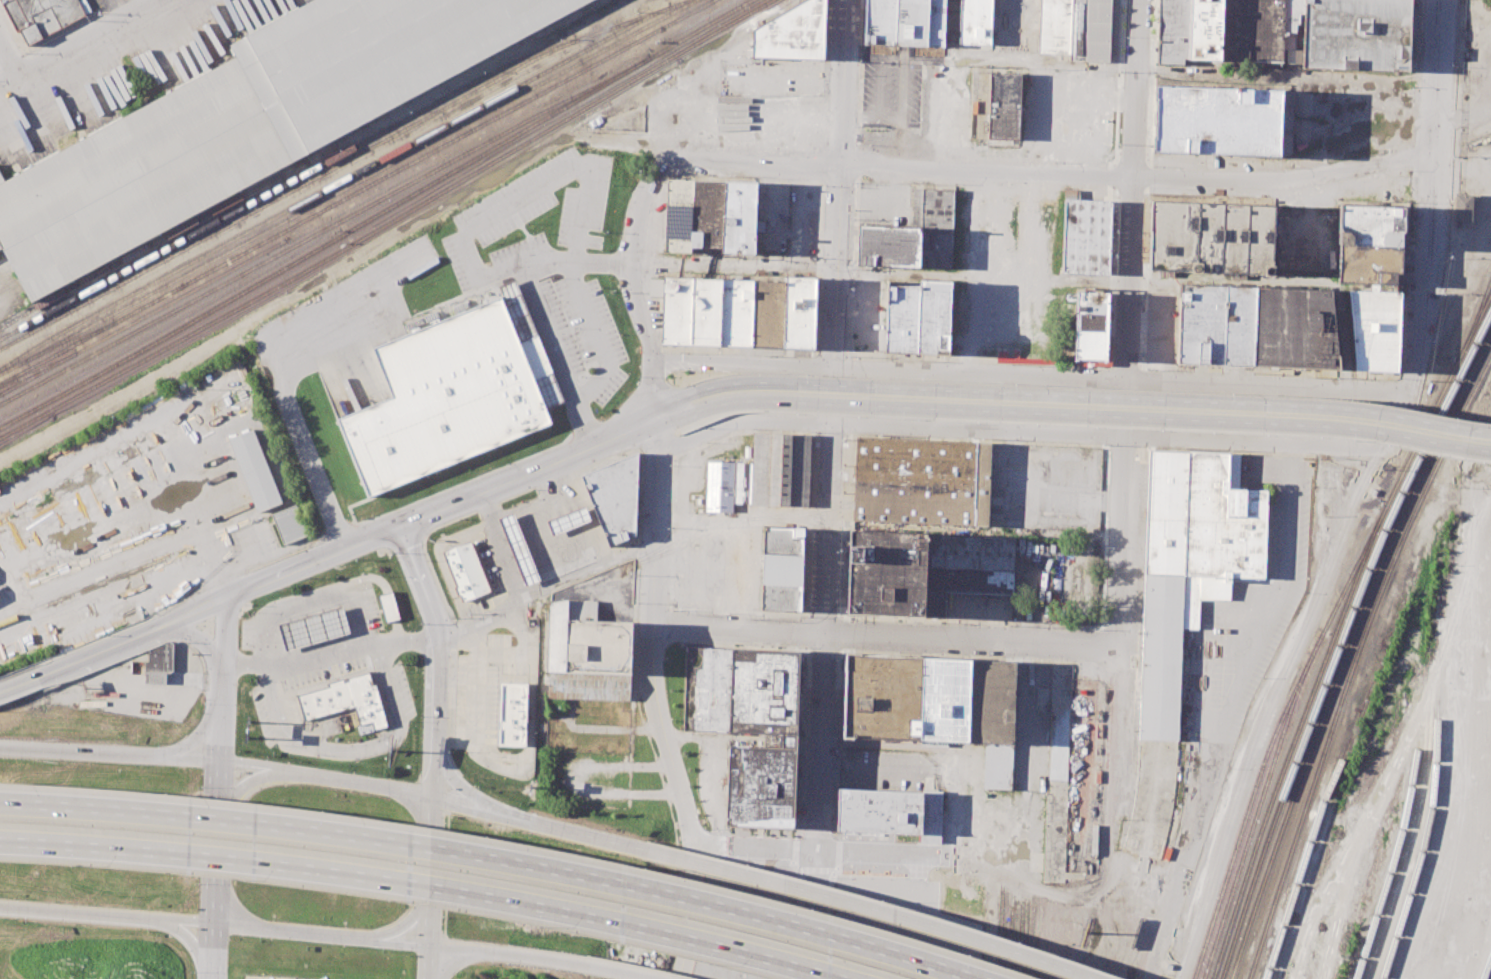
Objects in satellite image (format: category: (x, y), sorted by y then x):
building: (41, 16)
building: (878, 21)
building: (1291, 21)
building: (911, 22)
building: (936, 22)
building: (951, 22)
building: (976, 24)
building: (1054, 26)
railway: (699, 28)
building: (1205, 29)
building: (1077, 30)
building: (1097, 30)
building: (1173, 30)
building: (1252, 30)
railway: (715, 31)
building: (790, 33)
building: (1356, 33)
road: (1152, 37)
road: (75, 42)
road: (958, 55)
road: (7, 63)
road: (1066, 64)
railway: (647, 65)
road: (1284, 78)
road: (1118, 83)
road: (857, 85)
building: (1004, 105)
road: (950, 112)
road: (1149, 120)
building: (1217, 120)
building: (246, 124)
railway: (526, 141)
road: (1117, 153)
road: (1131, 153)
road: (1145, 153)
railway: (329, 169)
road: (1044, 173)
road: (1112, 175)
road: (1147, 175)
railway: (342, 179)
railway: (284, 184)
road: (838, 184)
road: (1379, 185)
railway: (347, 186)
railway: (425, 187)
road: (1112, 187)
road: (1146, 188)
railway: (356, 191)
building: (1463, 206)
building: (917, 208)
building: (709, 211)
building: (680, 217)
building: (739, 217)
road: (770, 220)
building: (1370, 224)
road: (1424, 227)
building: (936, 228)
railway: (323, 229)
road: (464, 235)
building: (1086, 236)
building: (1198, 236)
building: (1259, 238)
building: (888, 246)
railway: (144, 248)
road: (740, 263)
building: (1369, 264)
parking lot: (548, 266)
road: (823, 267)
road: (851, 268)
road: (970, 272)
road: (902, 273)
road: (657, 277)
road: (1111, 277)
road: (1049, 281)
road: (633, 288)
building: (517, 309)
building: (690, 310)
road: (587, 312)
building: (735, 312)
building: (799, 312)
building: (767, 313)
building: (917, 316)
railway: (139, 318)
railway: (1474, 320)
road: (1128, 323)
building: (1215, 324)
building: (1091, 326)
building: (1293, 328)
building: (1374, 328)
railway: (197, 330)
road: (1056, 330)
railway: (69, 340)
road: (272, 361)
road: (740, 364)
railway: (40, 368)
road: (1217, 368)
railway: (101, 371)
road: (1117, 381)
road: (724, 383)
road: (665, 388)
building: (548, 389)
road: (950, 390)
railway: (2, 393)
building: (447, 396)
road: (968, 401)
road: (1221, 401)
road: (726, 402)
road: (949, 408)
road: (734, 410)
street lamp: (798, 414)
road: (1300, 414)
street lamp: (860, 416)
street lamp: (905, 418)
street lamp: (920, 418)
street lamp: (980, 420)
road: (1414, 420)
road: (1220, 421)
street lamp: (1040, 423)
street lamp: (1100, 425)
road: (1143, 425)
street lamp: (698, 427)
road: (677, 428)
street lamp: (1135, 428)
street lamp: (1166, 428)
street lamp: (1217, 430)
road: (676, 432)
street lamp: (1272, 432)
road: (1019, 433)
street lamp: (1326, 435)
railway: (1451, 436)
road: (1414, 438)
street lamp: (1358, 439)
road: (656, 442)
street lamp: (1393, 443)
road: (674, 444)
railway: (120, 451)
street lamp: (1443, 453)
road: (674, 454)
street lamp: (617, 460)
street lamp: (1489, 460)
street lamp: (674, 465)
building: (255, 469)
building: (780, 469)
railway: (105, 471)
road: (528, 471)
building: (921, 481)
building: (742, 483)
building: (719, 486)
street lamp: (533, 489)
road: (191, 496)
building: (614, 497)
road: (534, 512)
building: (568, 519)
road: (740, 519)
street lamp: (460, 520)
road: (811, 520)
building: (289, 523)
road: (671, 530)
road: (422, 544)
road: (498, 547)
building: (517, 547)
road: (312, 564)
building: (1189, 565)
building: (966, 567)
railway: (1345, 567)
building: (781, 568)
building: (464, 570)
building: (886, 572)
road: (546, 585)
railway: (91, 588)
road: (961, 598)
road: (306, 605)
building: (388, 606)
road: (842, 617)
building: (313, 626)
building: (563, 628)
railway: (1335, 629)
road: (225, 632)
road: (886, 635)
road: (134, 638)
railway: (1341, 639)
road: (203, 640)
building: (598, 646)
street lamp: (144, 651)
railway: (1346, 651)
road: (330, 652)
road: (440, 660)
building: (156, 666)
railway: (1360, 672)
road: (819, 673)
road: (189, 679)
street lamp: (62, 682)
road: (21, 683)
building: (587, 686)
building: (706, 688)
building: (763, 690)
building: (883, 697)
building: (345, 699)
road: (656, 699)
building: (944, 699)
building: (991, 702)
road: (1271, 708)
road: (221, 713)
building: (512, 713)
railway: (1272, 735)
railway: (1329, 735)
road: (199, 738)
road: (354, 751)
road: (110, 753)
road: (952, 755)
railway: (1437, 759)
road: (252, 765)
building: (998, 766)
road: (1112, 770)
road: (1209, 772)
railway: (1415, 772)
railway: (1350, 775)
road: (247, 782)
road: (358, 784)
road: (457, 784)
building: (761, 784)
road: (450, 792)
railway: (1326, 795)
road: (424, 808)
building: (879, 811)
railway: (1255, 815)
building: (931, 816)
road: (531, 821)
road: (215, 843)
road: (825, 851)
road: (494, 855)
road: (431, 872)
road: (445, 874)
road: (418, 884)
road: (860, 906)
road: (229, 907)
road: (80, 912)
road: (185, 921)
road: (399, 925)
road: (287, 931)
railway: (1001, 933)
railway: (1011, 938)
railway: (1022, 938)
road: (189, 940)
railway: (1029, 941)
road: (397, 942)
railway: (1037, 945)
road: (209, 951)
road: (503, 954)
railway: (1343, 955)
road: (441, 958)
road: (456, 960)
road: (429, 963)
railway: (1252, 968)
railway: (1487, 969)
road: (617, 970)
building: (305, 978)
gas station: (305, 978)

